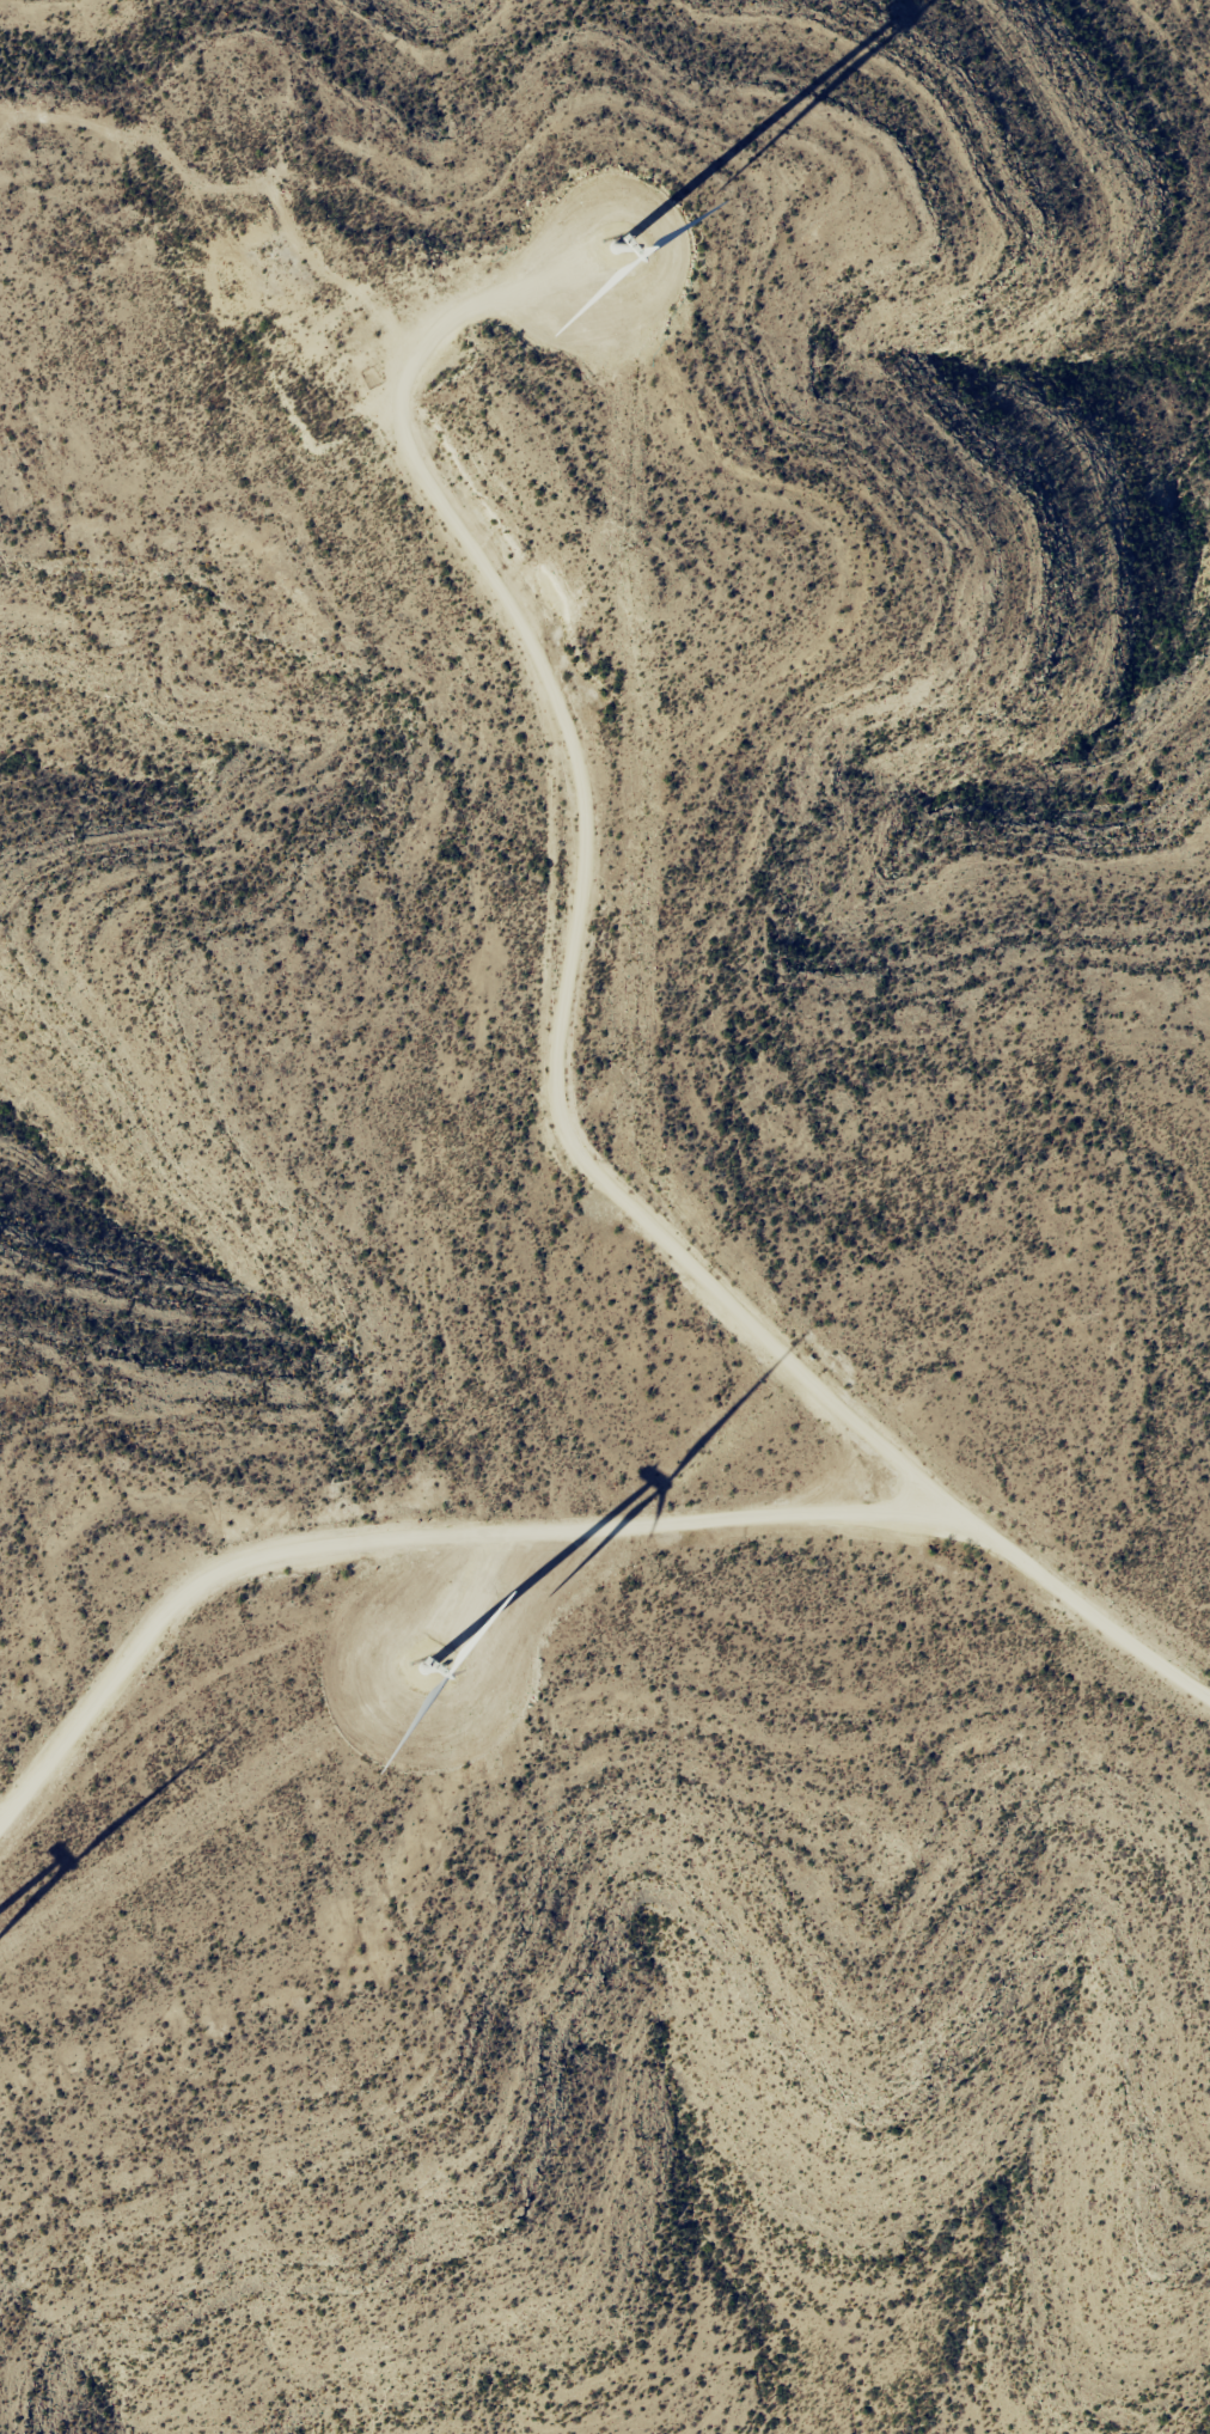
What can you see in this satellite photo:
wind turbine: (616, 248)
road: (612, 1173)
wind turbine: (427, 1666)

